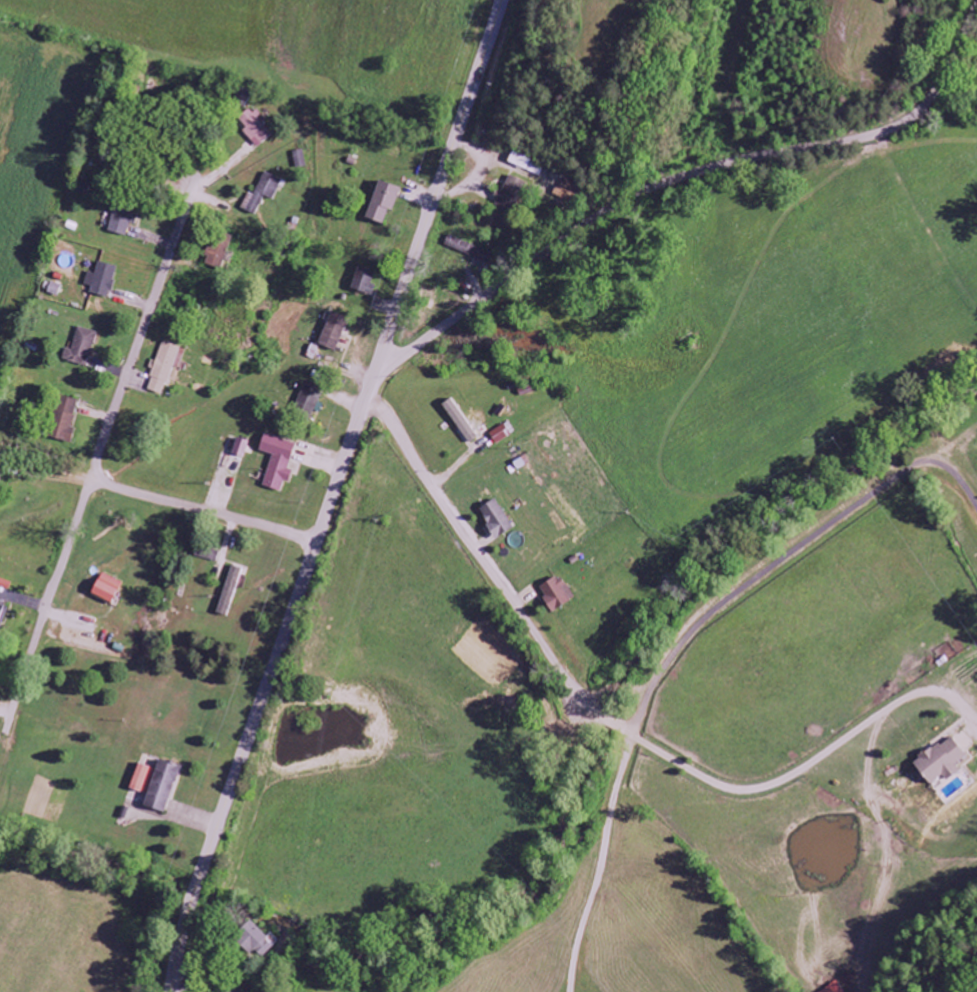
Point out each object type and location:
building: (253, 129)
building: (299, 160)
building: (520, 162)
road: (680, 180)
building: (568, 191)
building: (264, 192)
building: (510, 195)
building: (383, 203)
building: (122, 222)
building: (469, 250)
building: (218, 252)
building: (102, 281)
building: (364, 282)
building: (54, 289)
building: (334, 333)
building: (82, 347)
building: (165, 368)
building: (310, 400)
building: (64, 421)
building: (502, 434)
road: (49, 444)
building: (241, 449)
road: (99, 451)
building: (278, 462)
road: (49, 466)
road: (332, 494)
road: (196, 509)
building: (496, 518)
building: (208, 553)
building: (106, 589)
building: (229, 591)
building: (555, 594)
building: (1, 611)
building: (941, 761)
building: (157, 784)
building: (137, 796)
building: (256, 941)
building: (835, 988)

